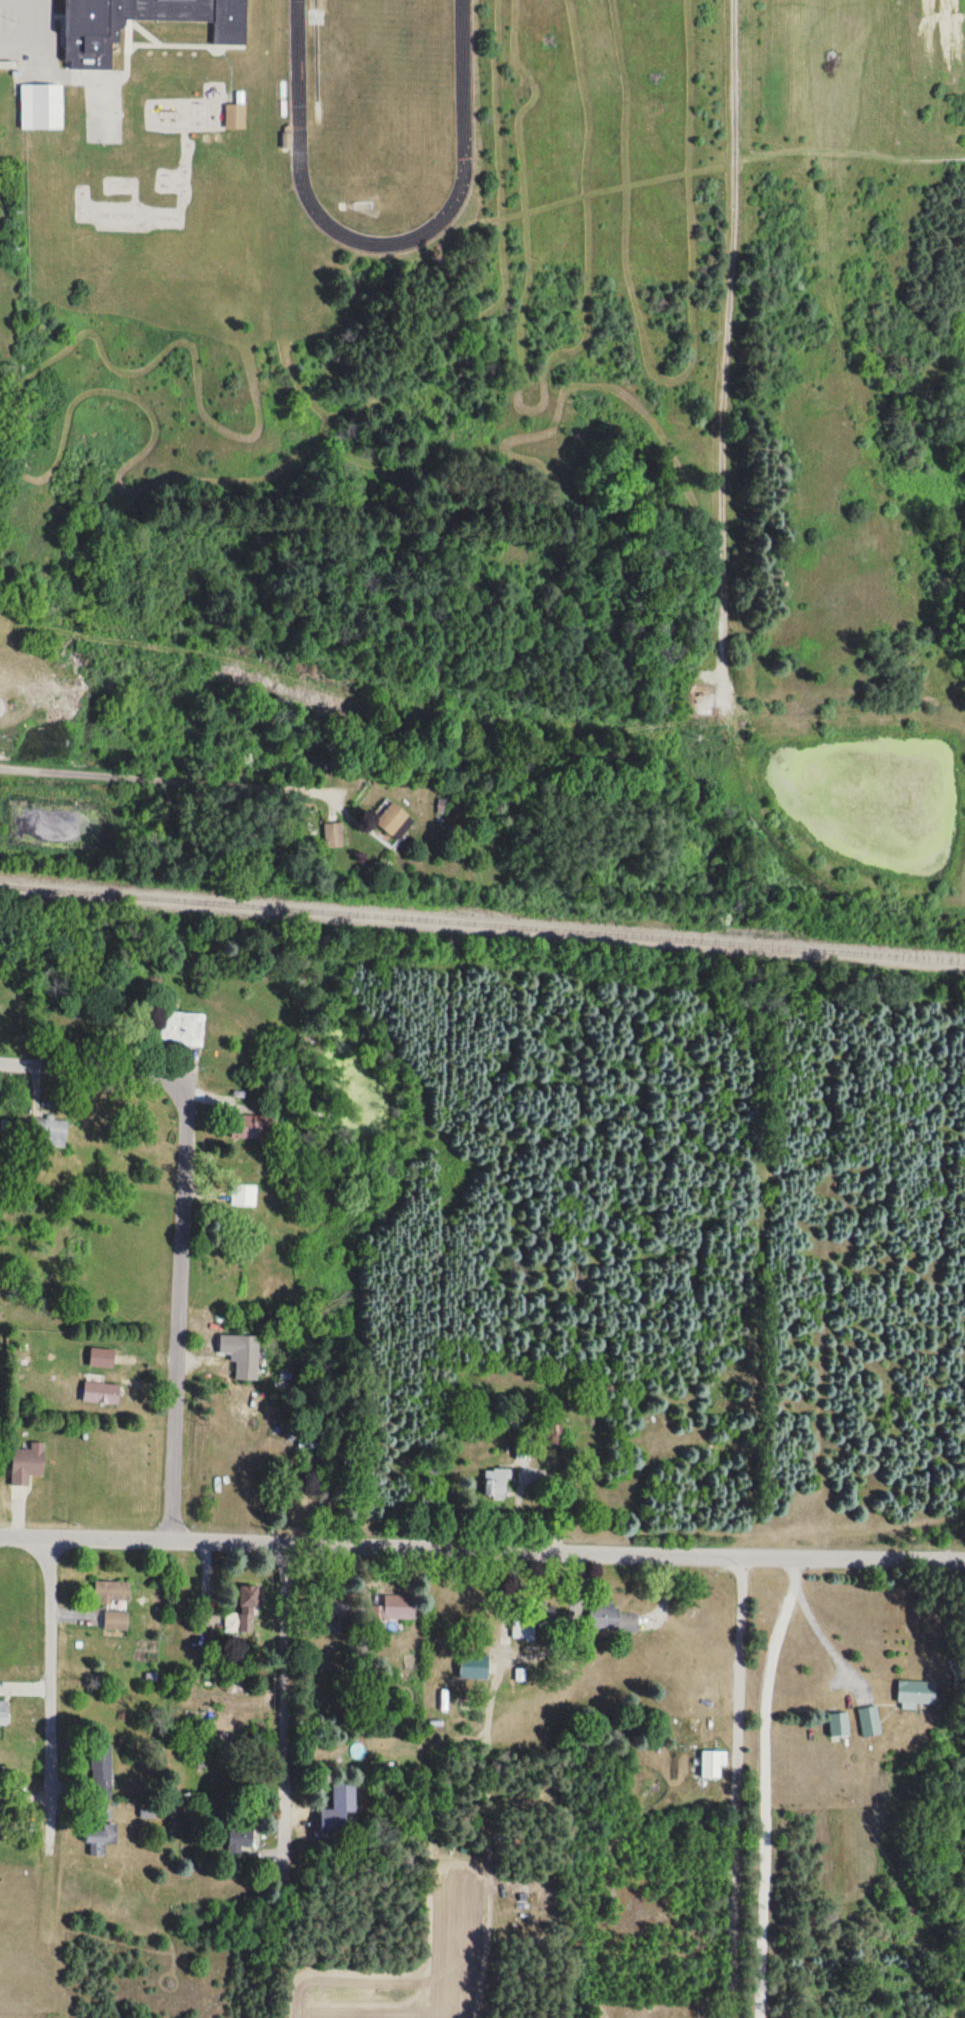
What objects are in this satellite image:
road: (24, 25)
building: (91, 34)
building: (42, 105)
building: (235, 117)
track: (378, 235)
road: (172, 778)
building: (392, 819)
building: (333, 836)
railway: (482, 922)
building: (182, 1028)
road: (90, 1068)
building: (250, 1128)
building: (47, 1132)
building: (244, 1196)
building: (859, 1275)
road: (176, 1311)
building: (231, 1351)
building: (101, 1394)
building: (27, 1465)
building: (494, 1485)
road: (482, 1547)
building: (112, 1592)
building: (396, 1608)
building: (244, 1612)
building: (612, 1620)
building: (116, 1621)
building: (474, 1668)
road: (45, 1691)
building: (918, 1693)
building: (3, 1712)
road: (281, 1712)
building: (870, 1721)
building: (839, 1724)
building: (713, 1763)
building: (100, 1769)
road: (763, 1783)
road: (734, 1785)
building: (339, 1807)
building: (1, 1816)
building: (99, 1837)

